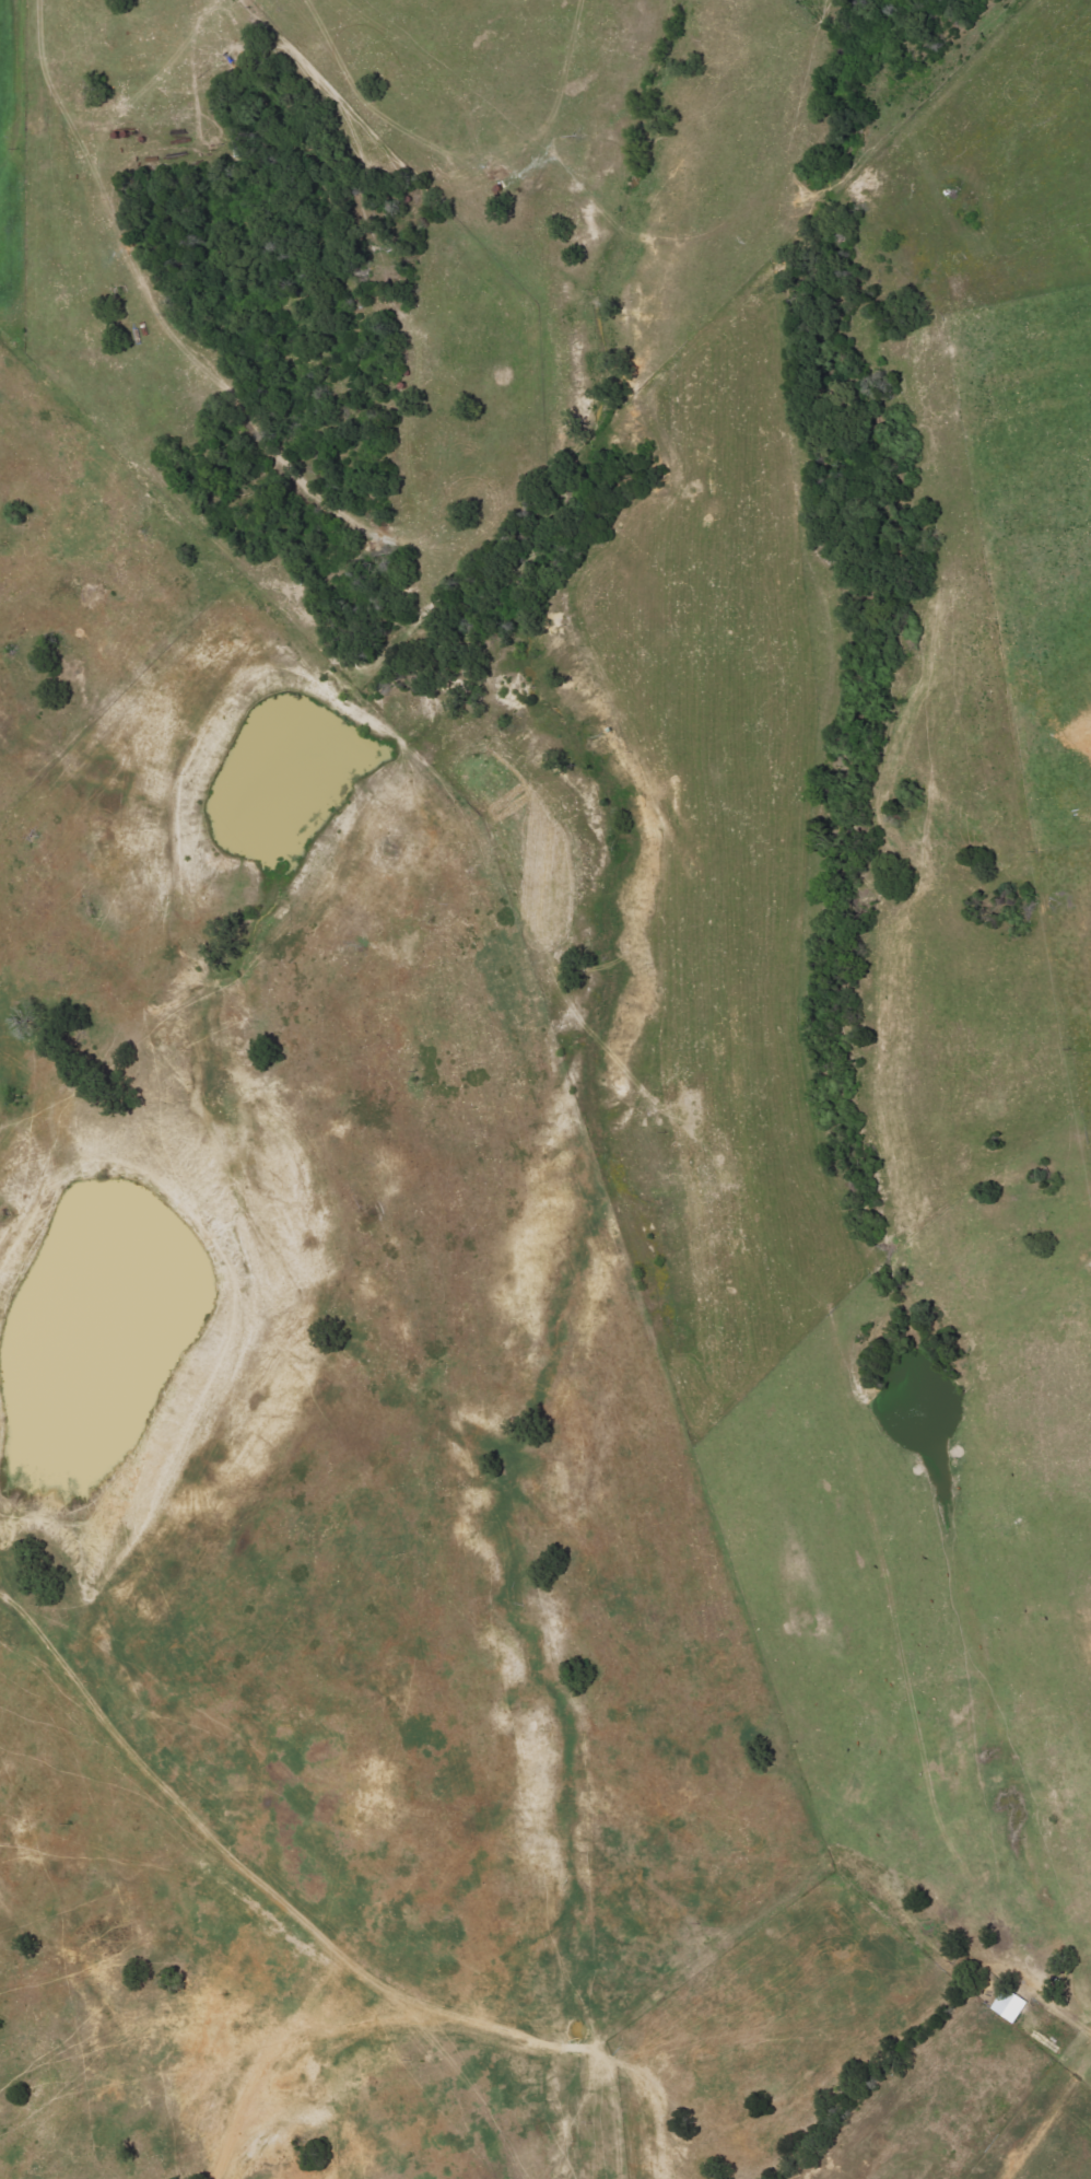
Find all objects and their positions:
building: (1011, 2004)

